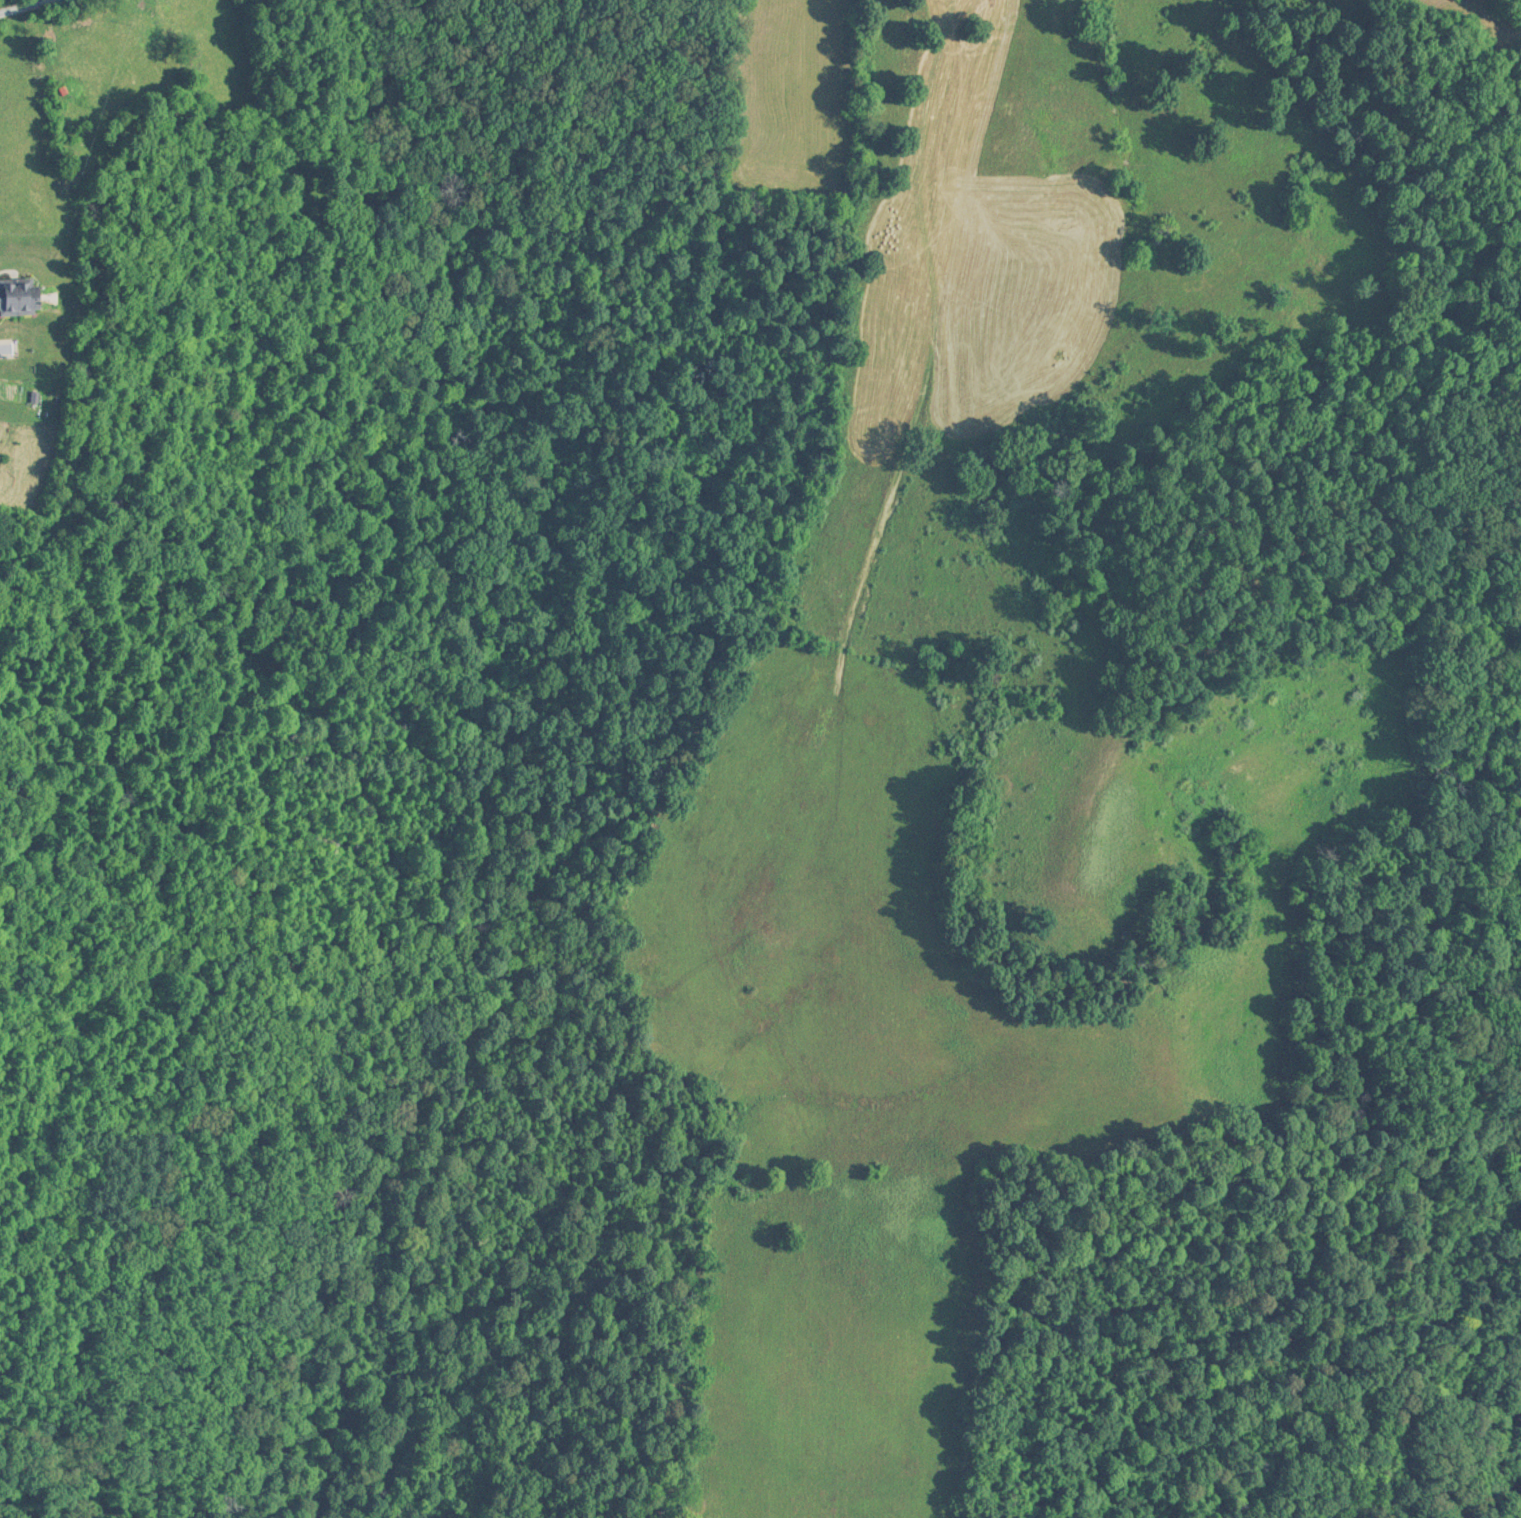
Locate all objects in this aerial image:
building: (20, 299)

